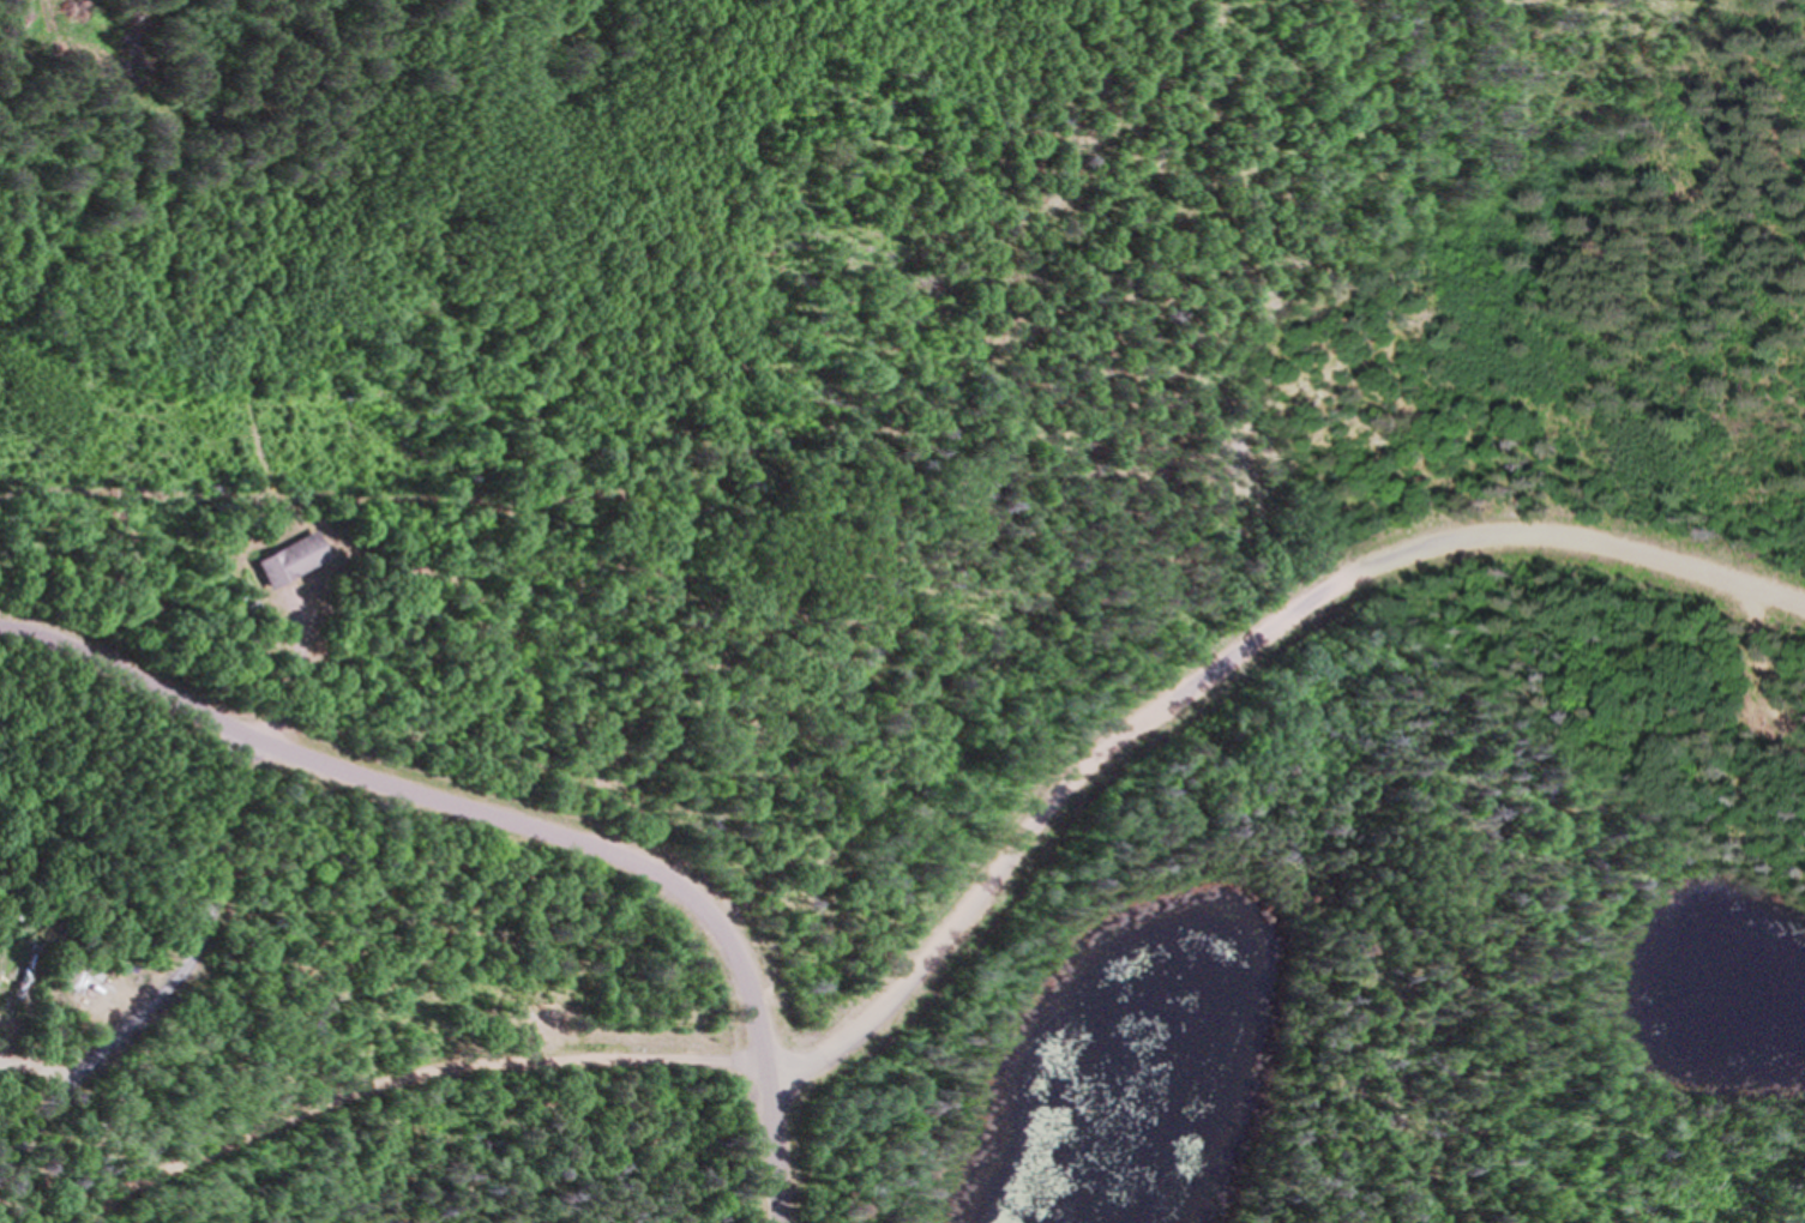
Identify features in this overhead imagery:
building: (276, 558)
building: (234, 608)
road: (1214, 657)
road: (1771, 658)
road: (435, 797)
building: (24, 959)
road: (167, 972)
building: (18, 975)
building: (11, 990)
building: (513, 1037)
road: (453, 1064)
road: (759, 1151)

